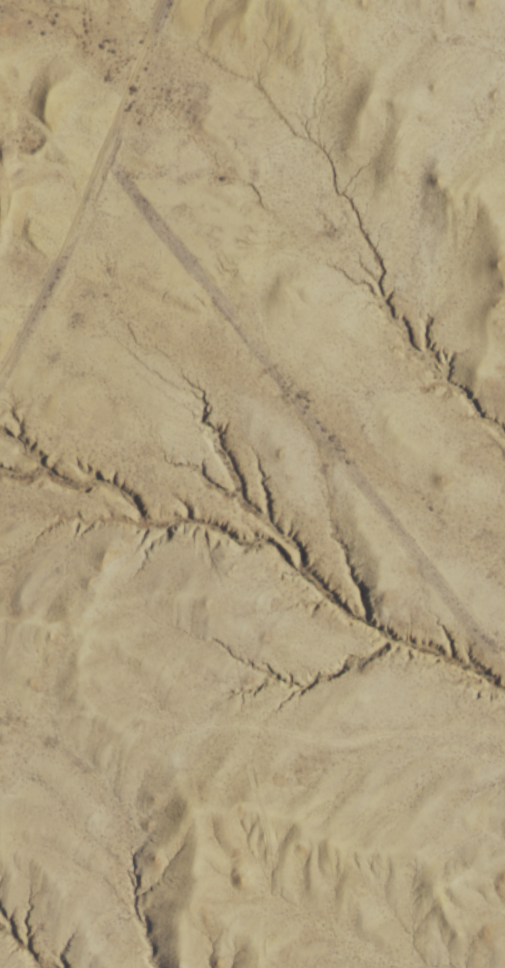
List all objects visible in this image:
road: (95, 210)

